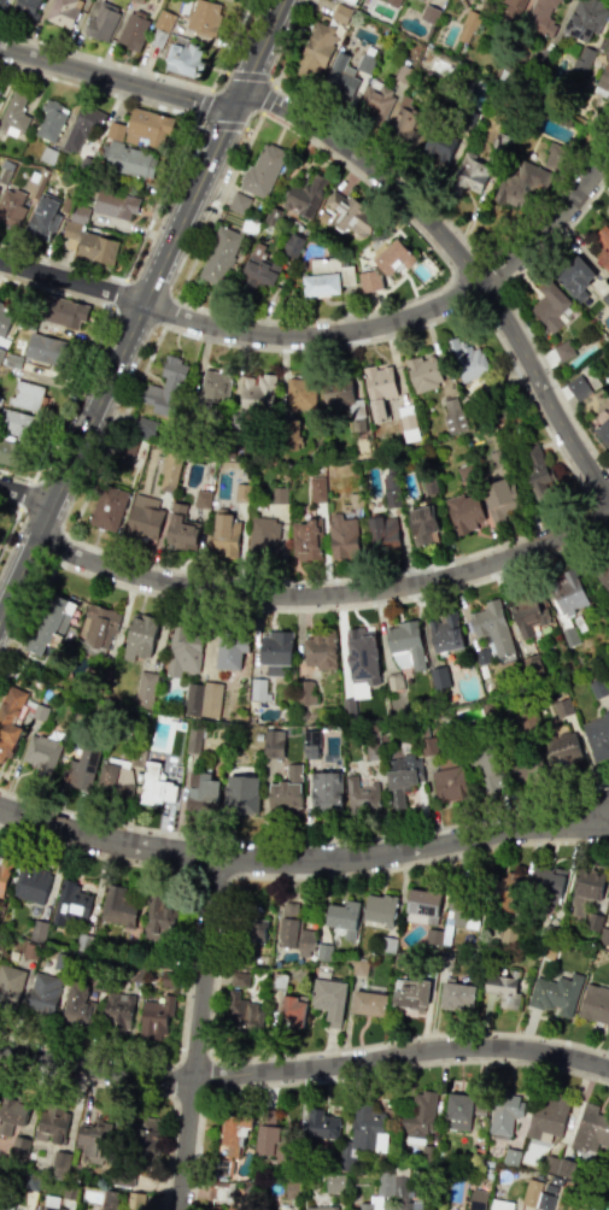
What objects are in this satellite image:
building: (353, 0)
building: (418, 0)
building: (393, 1)
building: (1, 4)
building: (28, 7)
building: (513, 8)
building: (428, 11)
building: (63, 12)
building: (341, 12)
building: (204, 17)
building: (585, 17)
building: (539, 18)
building: (163, 20)
building: (101, 22)
building: (468, 22)
building: (133, 31)
road: (233, 35)
road: (292, 41)
building: (607, 47)
building: (315, 48)
building: (582, 58)
building: (183, 60)
building: (365, 60)
building: (403, 71)
road: (250, 74)
building: (339, 75)
road: (213, 77)
road: (118, 78)
building: (603, 80)
road: (268, 96)
road: (245, 98)
traffic signals: (238, 99)
road: (203, 102)
building: (371, 105)
building: (13, 114)
building: (51, 121)
road: (193, 121)
road: (226, 124)
building: (81, 128)
building: (148, 128)
building: (405, 128)
building: (115, 130)
building: (555, 131)
building: (502, 140)
building: (439, 142)
building: (554, 155)
building: (130, 160)
building: (262, 169)
building: (468, 171)
road: (94, 178)
building: (521, 181)
building: (308, 194)
road: (158, 200)
building: (239, 201)
building: (115, 205)
building: (11, 207)
building: (345, 207)
building: (273, 213)
building: (43, 217)
road: (552, 221)
building: (250, 224)
road: (452, 224)
building: (89, 239)
building: (293, 243)
building: (603, 243)
building: (218, 253)
building: (393, 254)
road: (465, 263)
building: (258, 268)
road: (158, 269)
building: (327, 274)
building: (574, 277)
building: (370, 278)
road: (71, 281)
road: (117, 293)
building: (605, 298)
building: (550, 306)
building: (64, 312)
road: (169, 312)
road: (514, 312)
road: (341, 316)
building: (5, 319)
road: (312, 334)
building: (43, 348)
building: (563, 350)
building: (467, 360)
building: (422, 372)
road: (51, 380)
building: (215, 384)
building: (576, 387)
building: (377, 389)
building: (164, 390)
building: (300, 390)
road: (74, 393)
building: (257, 394)
building: (27, 395)
building: (342, 398)
building: (406, 422)
building: (16, 423)
building: (144, 428)
building: (603, 431)
building: (292, 436)
building: (128, 445)
building: (7, 451)
building: (496, 458)
building: (169, 469)
building: (538, 475)
building: (316, 489)
road: (24, 493)
road: (25, 493)
building: (277, 494)
building: (498, 497)
building: (200, 500)
building: (356, 500)
building: (107, 507)
building: (463, 513)
building: (142, 517)
building: (421, 524)
road: (8, 529)
building: (180, 529)
building: (382, 534)
building: (222, 536)
building: (263, 536)
building: (342, 536)
building: (306, 538)
road: (484, 548)
road: (59, 551)
road: (17, 576)
building: (604, 578)
road: (324, 594)
building: (566, 604)
road: (335, 609)
building: (525, 616)
road: (27, 622)
building: (48, 624)
building: (98, 625)
building: (492, 627)
building: (445, 633)
building: (139, 635)
building: (404, 645)
building: (230, 648)
building: (181, 651)
building: (275, 652)
building: (361, 654)
building: (481, 656)
building: (315, 658)
building: (99, 676)
building: (438, 677)
building: (393, 682)
building: (598, 687)
building: (145, 689)
building: (257, 689)
building: (206, 699)
building: (347, 707)
building: (561, 707)
building: (487, 710)
building: (39, 712)
building: (526, 718)
building: (10, 719)
building: (597, 735)
building: (193, 738)
building: (271, 742)
building: (310, 744)
building: (561, 750)
building: (42, 753)
building: (523, 762)
building: (82, 766)
building: (403, 774)
building: (486, 775)
building: (115, 779)
building: (446, 780)
building: (154, 786)
building: (285, 789)
building: (324, 791)
building: (200, 792)
building: (361, 794)
building: (239, 795)
road: (545, 818)
road: (305, 844)
road: (303, 859)
building: (4, 873)
building: (30, 885)
building: (545, 885)
building: (585, 889)
building: (510, 892)
building: (70, 903)
building: (464, 905)
building: (420, 906)
building: (118, 907)
building: (380, 907)
building: (159, 917)
building: (342, 917)
building: (593, 921)
building: (248, 926)
building: (37, 930)
building: (294, 932)
building: (603, 935)
building: (432, 936)
building: (506, 936)
building: (83, 944)
building: (385, 944)
building: (29, 951)
building: (322, 951)
road: (187, 957)
building: (62, 962)
building: (358, 967)
building: (135, 971)
building: (166, 977)
road: (215, 977)
building: (238, 979)
building: (99, 982)
building: (10, 985)
building: (503, 989)
building: (455, 994)
building: (555, 994)
building: (41, 995)
building: (411, 995)
building: (329, 997)
building: (288, 1003)
building: (76, 1004)
building: (368, 1004)
building: (595, 1004)
building: (241, 1011)
building: (116, 1014)
building: (154, 1017)
road: (195, 1033)
road: (304, 1067)
road: (349, 1076)
road: (140, 1089)
building: (462, 1109)
building: (504, 1110)
building: (10, 1114)
building: (418, 1115)
building: (547, 1116)
building: (320, 1122)
building: (52, 1123)
building: (590, 1128)
building: (362, 1133)
building: (145, 1135)
building: (92, 1136)
building: (233, 1138)
building: (270, 1143)
building: (18, 1151)
building: (476, 1151)
building: (428, 1152)
building: (510, 1156)
building: (608, 1157)
building: (608, 1159)
building: (488, 1162)
building: (549, 1162)
building: (59, 1163)
building: (566, 1167)
building: (121, 1170)
building: (488, 1171)
building: (500, 1173)
building: (539, 1175)
building: (556, 1180)
building: (31, 1181)
building: (334, 1181)
building: (385, 1182)
building: (247, 1186)
building: (550, 1186)
building: (293, 1187)
building: (222, 1190)
building: (69, 1191)
building: (400, 1191)
building: (531, 1191)
building: (478, 1198)
building: (110, 1199)
building: (545, 1199)
building: (134, 1200)
building: (49, 1204)
building: (499, 1204)
building: (364, 1205)
building: (215, 1206)
building: (233, 1208)
building: (320, 1208)

